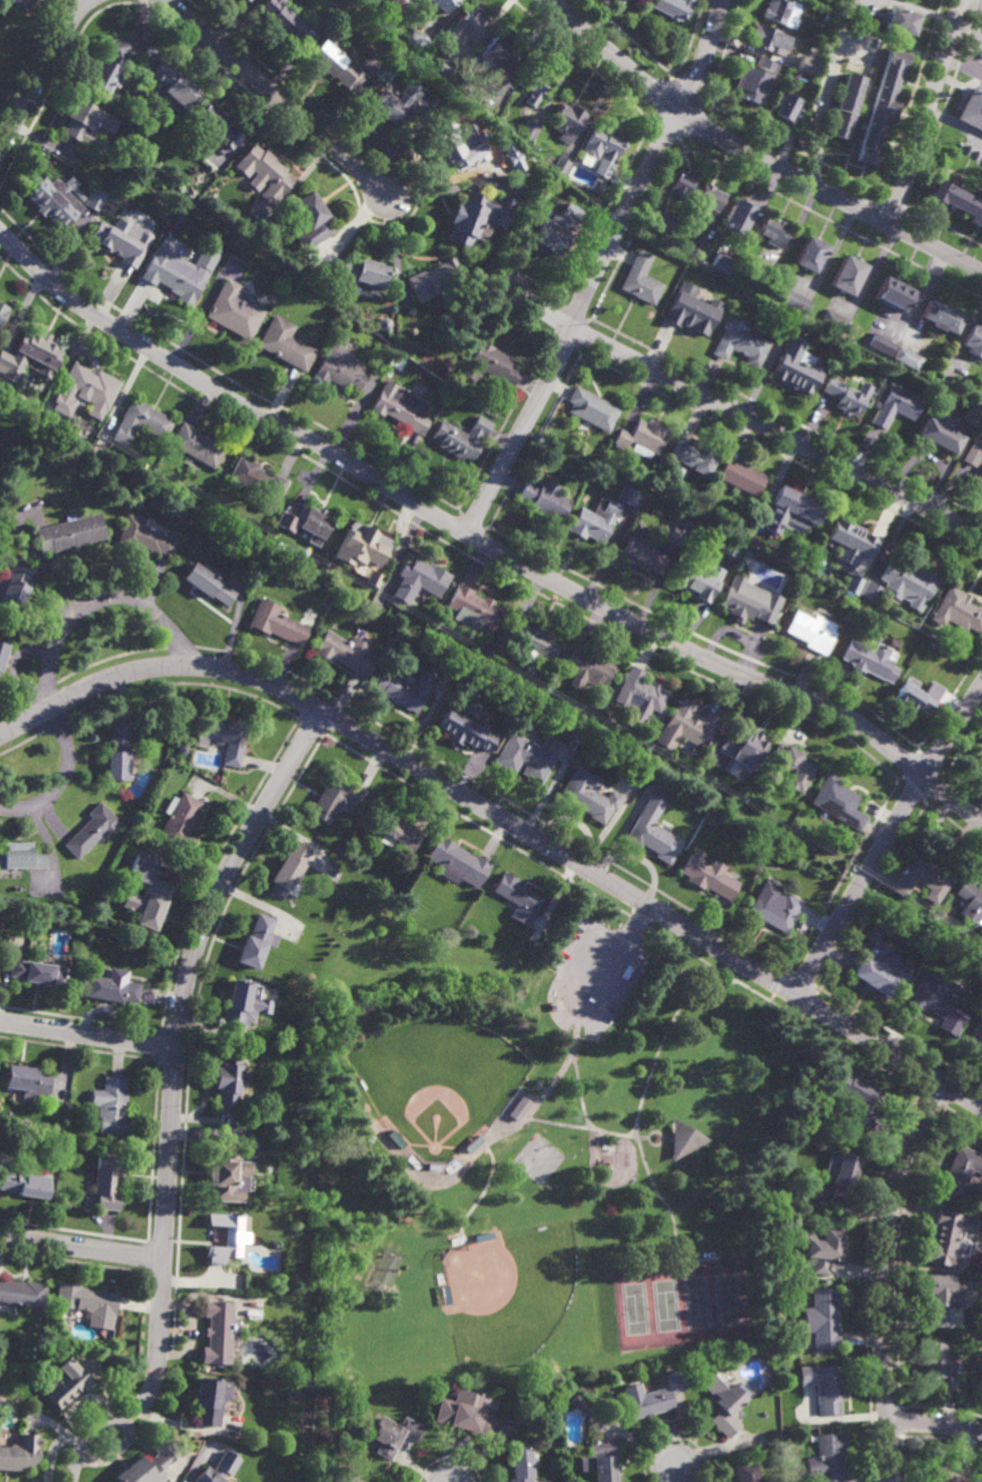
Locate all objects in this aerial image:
building: (245, 1)
road: (976, 2)
building: (22, 3)
building: (335, 4)
building: (444, 4)
building: (673, 7)
building: (393, 8)
building: (812, 10)
building: (782, 11)
building: (285, 20)
building: (902, 20)
building: (465, 26)
road: (968, 33)
building: (769, 37)
building: (417, 40)
building: (497, 51)
road: (722, 53)
road: (33, 57)
road: (660, 60)
road: (581, 61)
building: (797, 61)
building: (335, 63)
road: (963, 63)
building: (108, 64)
building: (806, 64)
building: (765, 65)
building: (446, 67)
road: (670, 73)
road: (42, 74)
building: (173, 83)
building: (753, 83)
building: (498, 84)
building: (532, 84)
road: (688, 92)
road: (913, 94)
road: (279, 98)
building: (396, 102)
road: (821, 103)
building: (845, 105)
building: (788, 106)
building: (880, 106)
road: (926, 112)
building: (971, 112)
building: (87, 120)
building: (469, 120)
building: (567, 121)
building: (807, 124)
building: (212, 126)
road: (651, 126)
building: (529, 130)
road: (668, 132)
road: (936, 139)
building: (150, 142)
road: (310, 146)
road: (682, 146)
road: (790, 146)
building: (461, 148)
building: (601, 149)
building: (538, 152)
road: (753, 154)
building: (560, 165)
building: (207, 168)
building: (264, 172)
building: (682, 184)
road: (881, 189)
building: (189, 193)
building: (711, 197)
road: (895, 198)
building: (95, 199)
building: (57, 200)
building: (957, 201)
road: (913, 205)
road: (603, 213)
building: (477, 215)
building: (740, 215)
building: (311, 220)
building: (670, 221)
road: (833, 223)
building: (555, 229)
building: (774, 230)
road: (633, 233)
building: (118, 239)
building: (240, 243)
building: (696, 245)
building: (809, 254)
building: (723, 263)
road: (596, 268)
building: (768, 270)
building: (363, 272)
building: (175, 275)
building: (847, 275)
road: (526, 276)
building: (435, 279)
building: (640, 279)
building: (893, 294)
building: (795, 302)
road: (561, 304)
building: (3, 312)
building: (233, 312)
road: (517, 315)
road: (572, 315)
building: (694, 315)
building: (942, 317)
road: (558, 321)
road: (588, 321)
building: (834, 321)
building: (384, 324)
road: (579, 334)
road: (551, 335)
road: (566, 341)
building: (974, 341)
building: (740, 343)
building: (285, 344)
building: (881, 345)
road: (577, 352)
building: (31, 356)
building: (805, 359)
building: (907, 359)
building: (491, 365)
building: (340, 366)
building: (794, 369)
road: (219, 373)
building: (944, 382)
building: (86, 389)
building: (845, 396)
building: (895, 407)
building: (591, 409)
building: (397, 410)
road: (744, 416)
building: (971, 417)
road: (786, 419)
building: (141, 422)
road: (504, 422)
building: (940, 434)
building: (461, 438)
building: (642, 438)
road: (533, 441)
building: (197, 446)
building: (974, 450)
road: (780, 456)
building: (694, 457)
building: (742, 477)
building: (978, 477)
building: (257, 481)
building: (628, 497)
building: (545, 499)
road: (460, 511)
building: (792, 512)
building: (284, 521)
building: (595, 521)
road: (472, 523)
building: (309, 524)
road: (455, 525)
road: (487, 529)
building: (71, 533)
building: (678, 533)
building: (145, 536)
road: (436, 537)
road: (448, 539)
road: (477, 539)
road: (482, 542)
building: (850, 544)
building: (362, 545)
building: (731, 548)
road: (471, 552)
building: (746, 553)
building: (642, 555)
building: (373, 576)
building: (419, 578)
building: (697, 579)
building: (210, 583)
building: (907, 584)
building: (850, 585)
building: (14, 589)
building: (870, 593)
road: (92, 600)
building: (747, 601)
building: (474, 609)
building: (957, 611)
building: (277, 622)
building: (813, 629)
building: (509, 631)
road: (704, 639)
building: (533, 643)
road: (182, 647)
building: (3, 650)
building: (345, 652)
building: (870, 658)
road: (111, 659)
building: (588, 667)
building: (552, 677)
road: (45, 688)
building: (405, 688)
building: (640, 692)
building: (918, 695)
road: (951, 699)
road: (16, 705)
building: (686, 724)
road: (310, 726)
building: (466, 728)
building: (224, 735)
building: (979, 745)
building: (745, 747)
road: (917, 749)
building: (121, 750)
building: (181, 751)
building: (528, 755)
building: (797, 767)
road: (59, 779)
road: (899, 780)
road: (498, 795)
building: (587, 796)
building: (333, 798)
building: (837, 802)
road: (503, 819)
building: (179, 822)
building: (395, 828)
building: (91, 829)
building: (653, 829)
road: (886, 837)
building: (22, 855)
building: (456, 862)
building: (287, 868)
building: (709, 875)
road: (842, 876)
building: (920, 878)
building: (147, 891)
building: (767, 891)
building: (517, 898)
building: (970, 901)
building: (776, 911)
road: (621, 912)
road: (640, 920)
building: (255, 941)
parking lot: (596, 967)
building: (880, 970)
building: (37, 972)
building: (111, 988)
building: (547, 999)
road: (683, 999)
building: (235, 1003)
road: (558, 1006)
building: (940, 1007)
road: (178, 1019)
road: (87, 1034)
building: (977, 1035)
building: (225, 1080)
building: (27, 1081)
park: (436, 1083)
road: (578, 1092)
building: (860, 1098)
road: (933, 1098)
building: (112, 1105)
building: (374, 1108)
building: (518, 1108)
road: (520, 1122)
road: (585, 1127)
road: (634, 1132)
building: (396, 1136)
building: (683, 1137)
road: (661, 1138)
road: (666, 1139)
building: (472, 1141)
park: (537, 1151)
park: (536, 1160)
building: (432, 1165)
building: (960, 1169)
building: (841, 1170)
building: (226, 1172)
building: (109, 1178)
building: (26, 1182)
building: (485, 1235)
building: (944, 1235)
building: (224, 1236)
building: (820, 1246)
road: (80, 1247)
building: (441, 1254)
road: (880, 1276)
building: (23, 1292)
park: (508, 1294)
building: (937, 1294)
building: (443, 1297)
building: (89, 1302)
park: (679, 1304)
building: (823, 1317)
building: (215, 1331)
building: (938, 1366)
building: (67, 1383)
building: (823, 1386)
building: (653, 1396)
building: (206, 1400)
building: (726, 1403)
building: (580, 1405)
building: (465, 1412)
road: (113, 1421)
road: (934, 1423)
building: (392, 1433)
building: (19, 1453)
building: (826, 1457)
building: (601, 1460)
building: (146, 1465)
building: (520, 1465)
building: (216, 1468)
building: (747, 1472)
building: (943, 1474)
road: (676, 1475)
building: (546, 1481)

